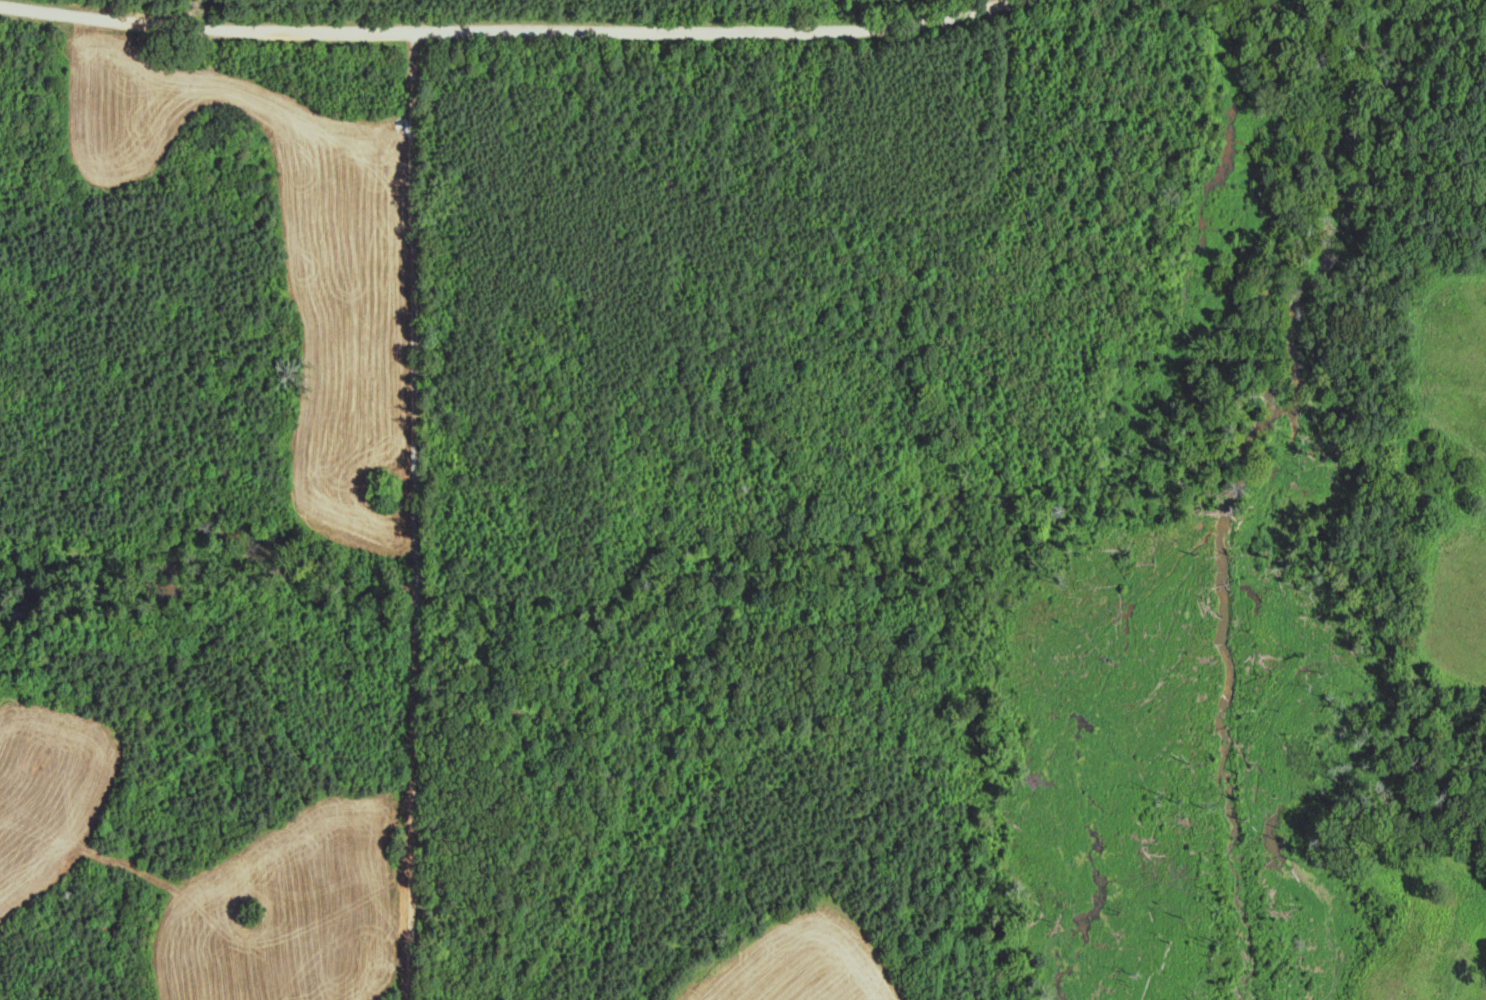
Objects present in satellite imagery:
road: (520, 34)

